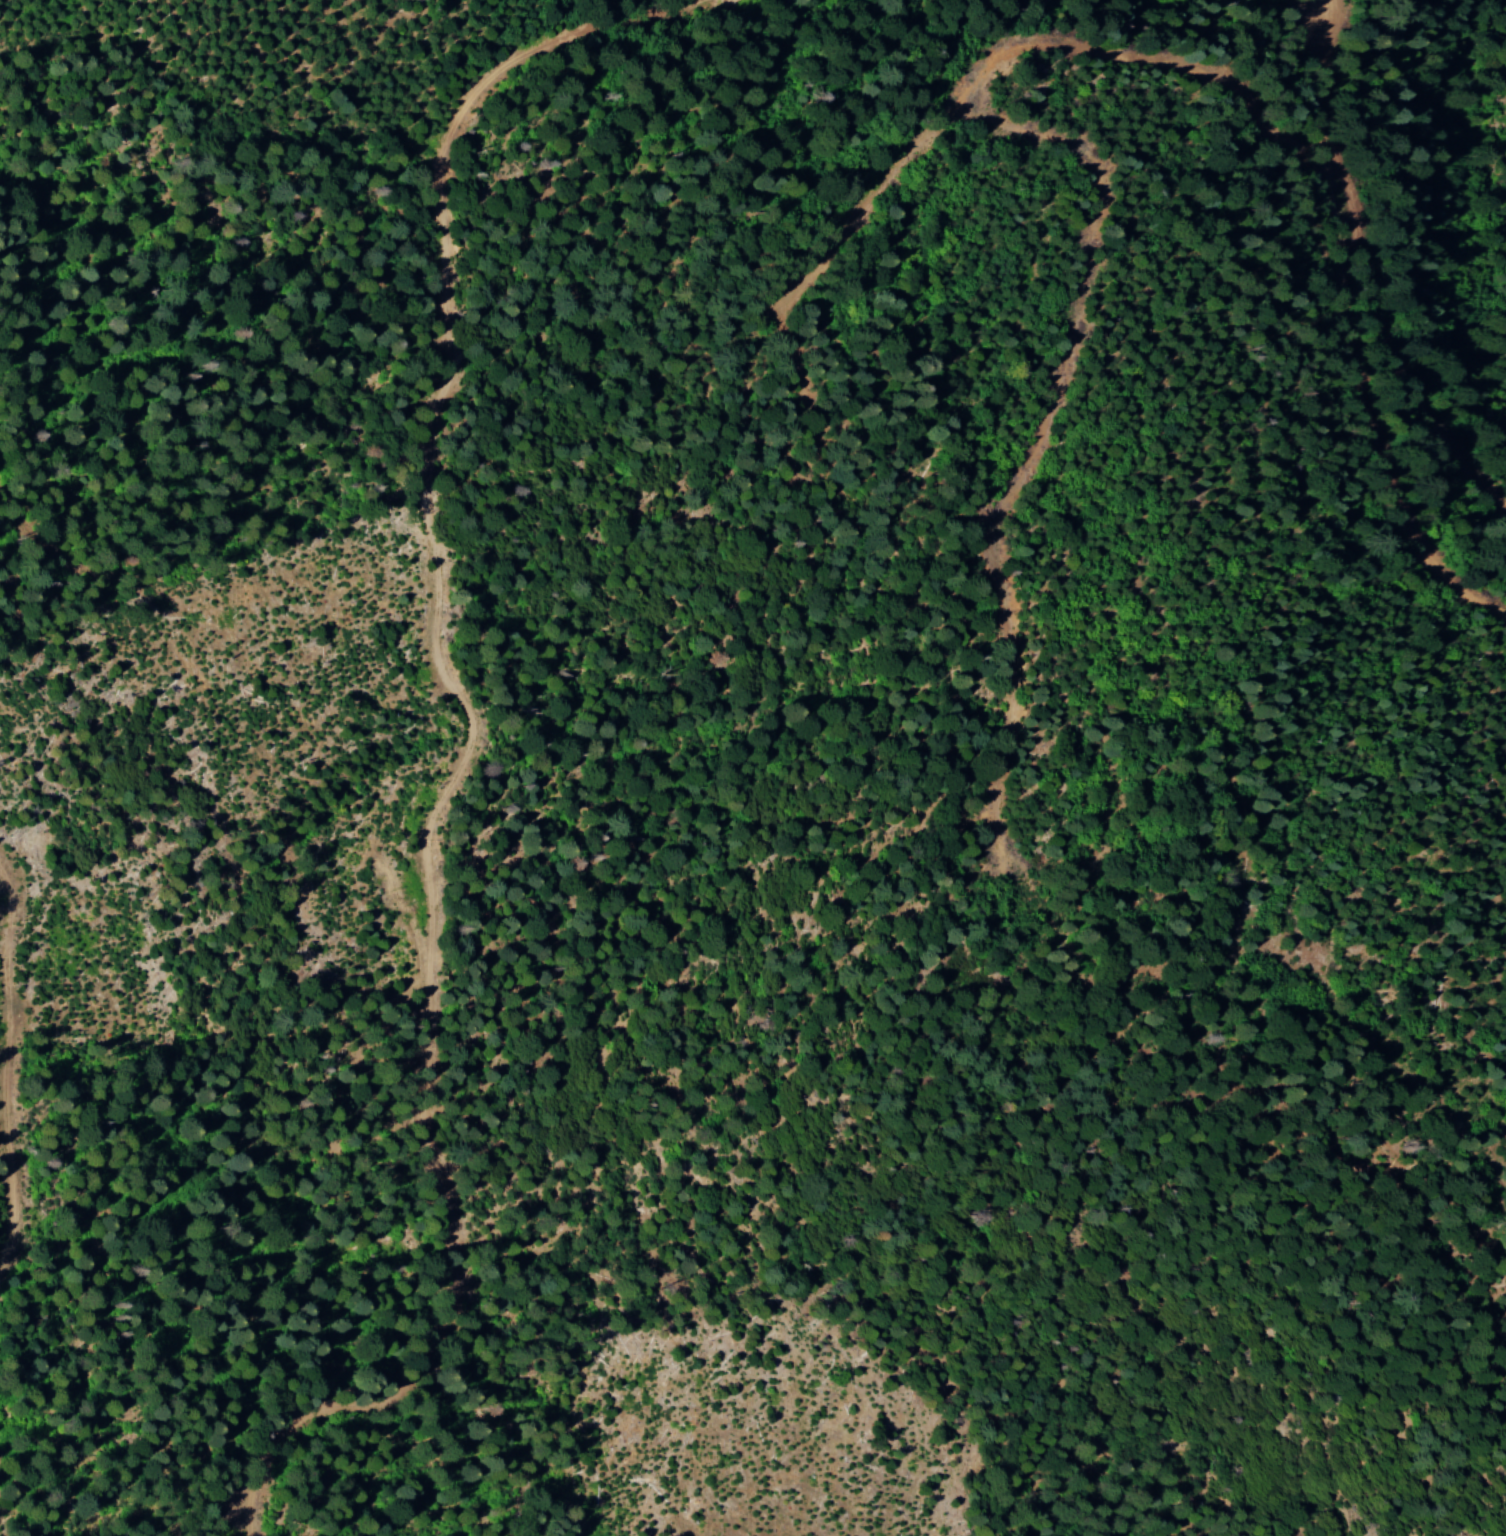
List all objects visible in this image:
road: (1337, 95)
road: (1408, 351)
road: (1385, 424)
road: (437, 721)

